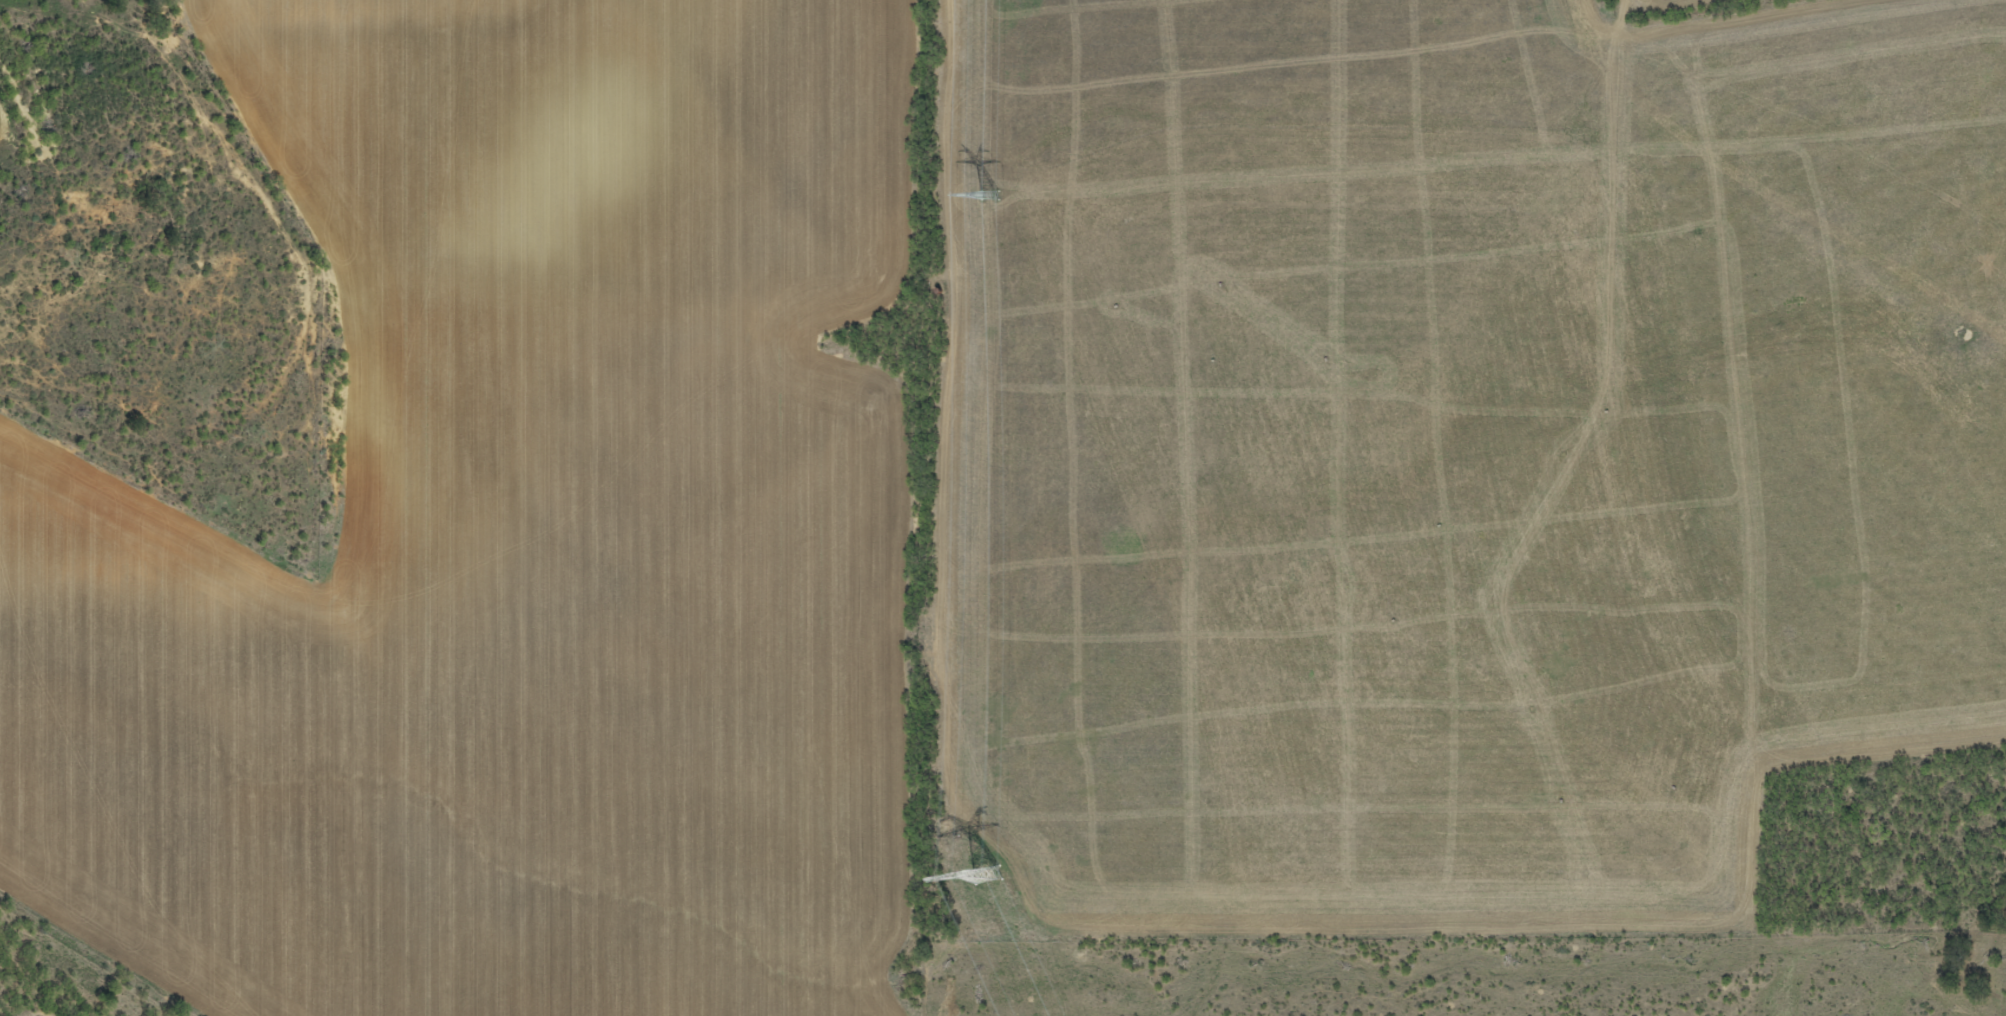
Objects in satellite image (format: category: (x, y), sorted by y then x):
power tower: (992, 196)
power tower: (984, 875)

